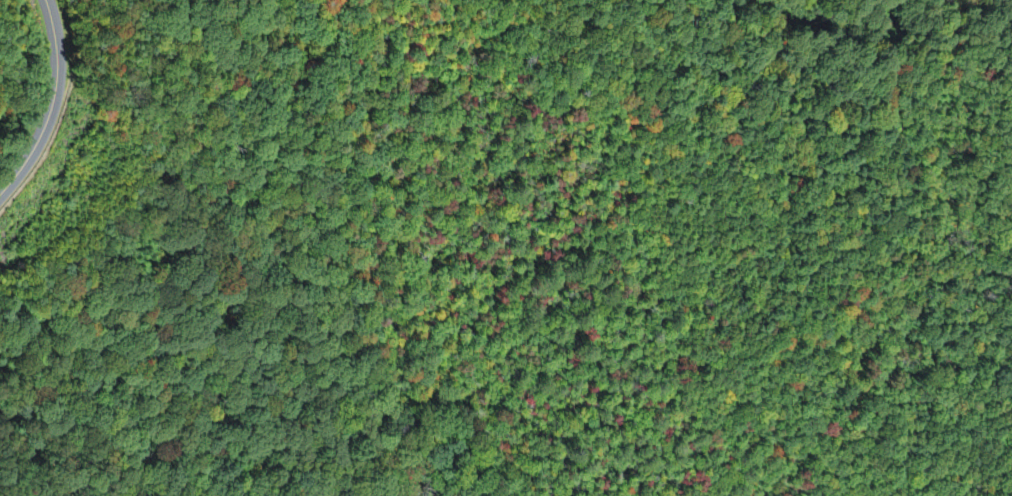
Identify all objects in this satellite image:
road: (55, 105)

